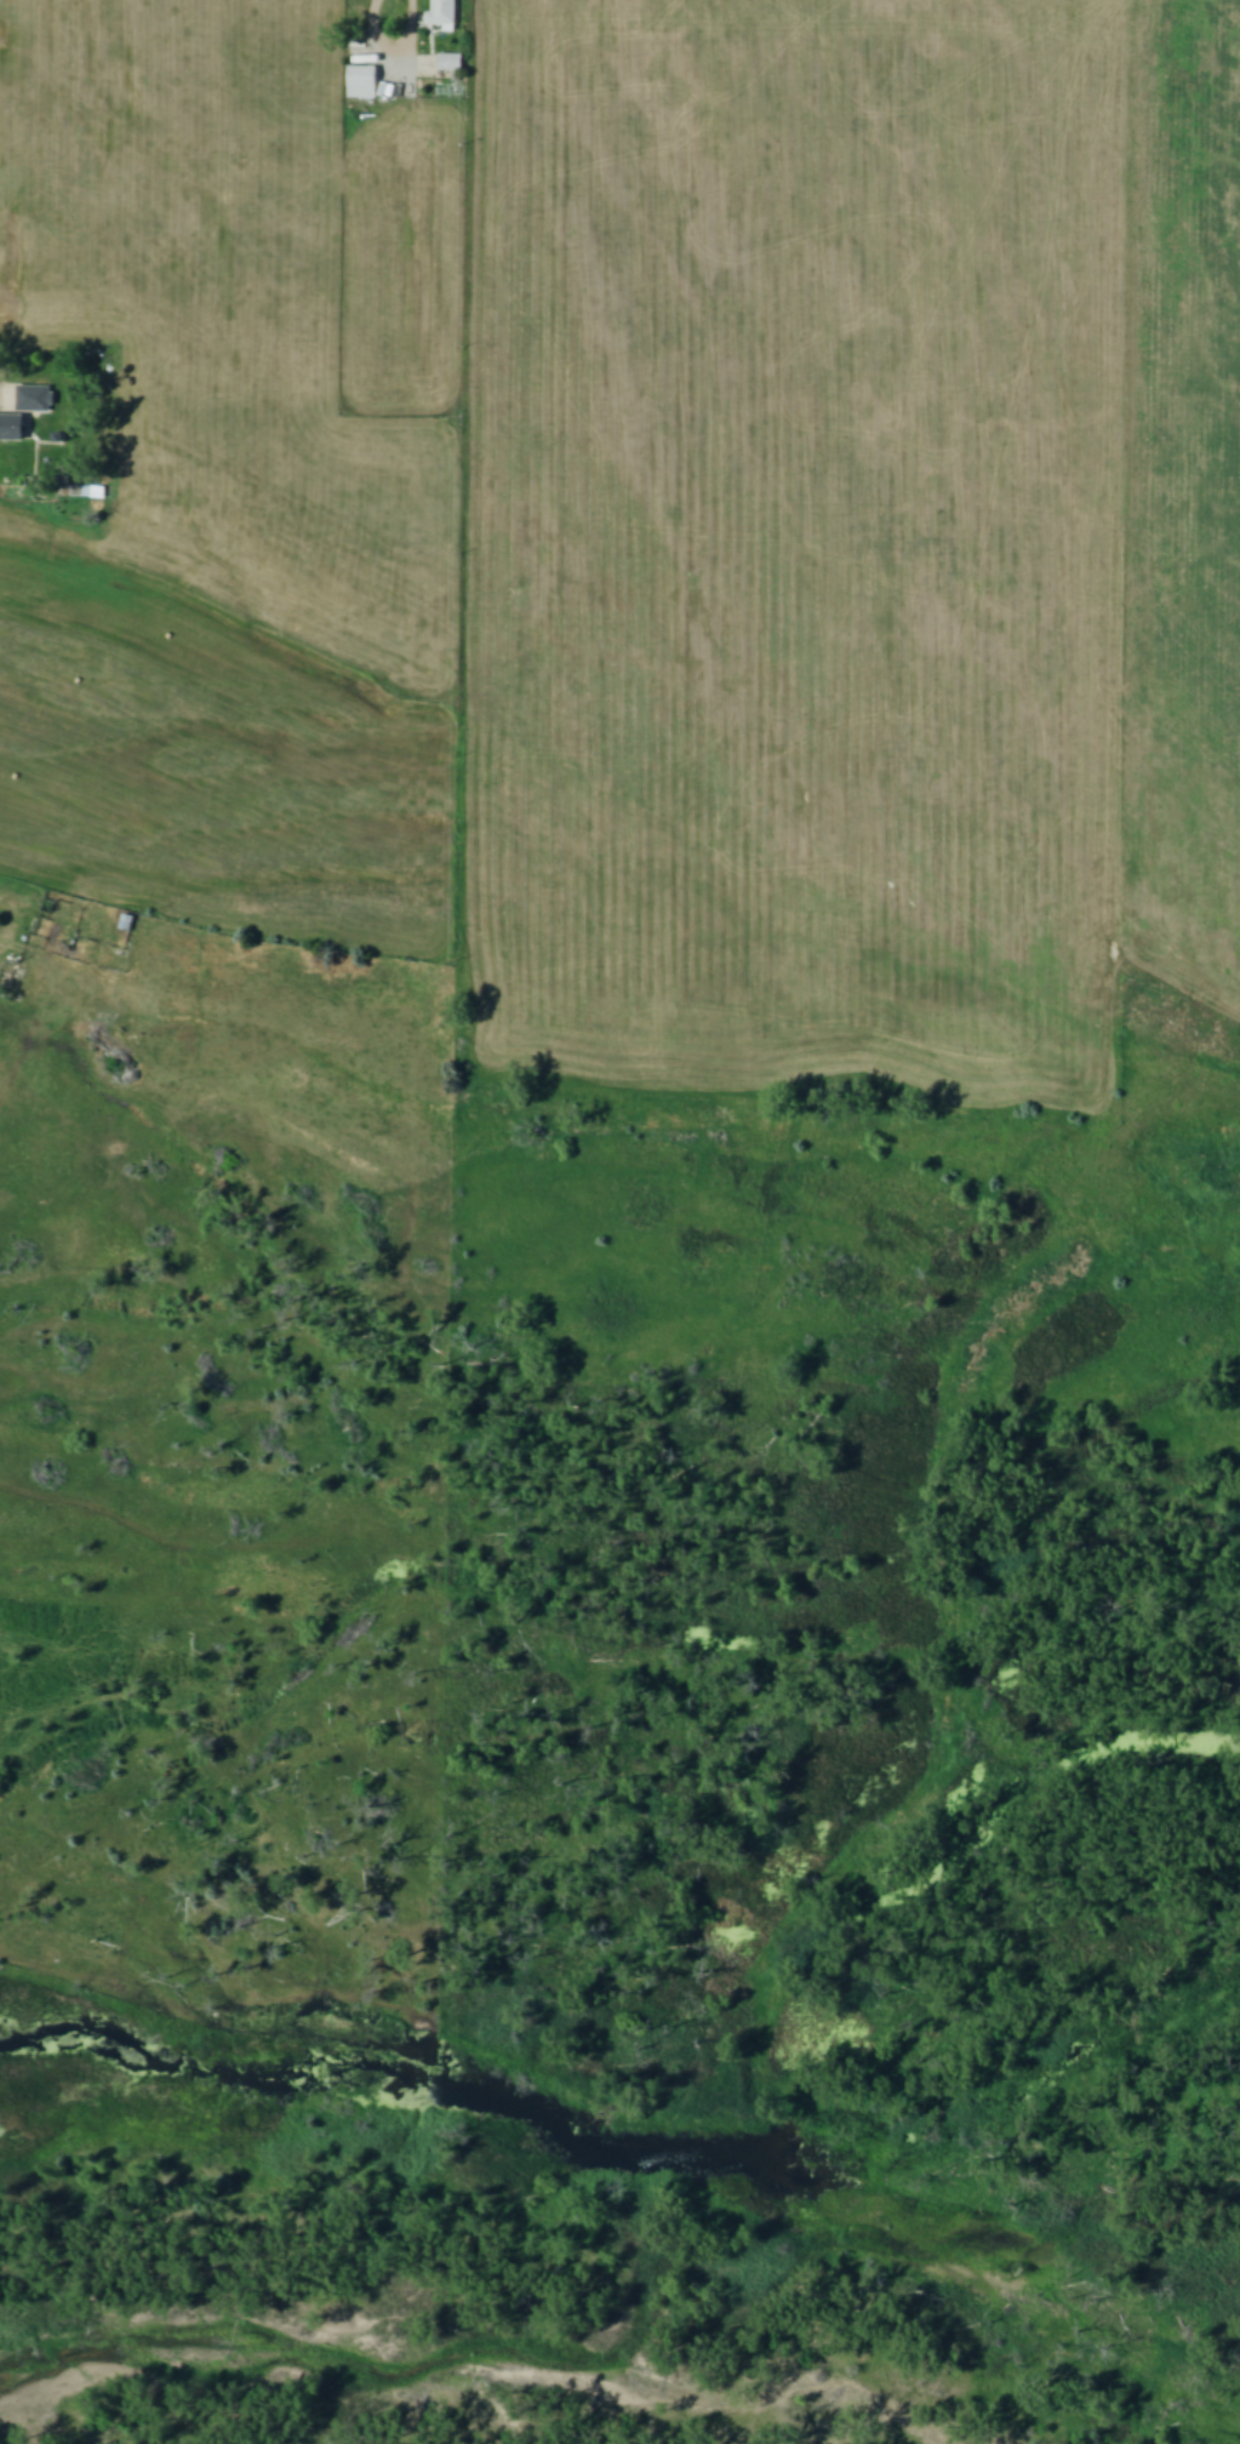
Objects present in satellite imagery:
building: (444, 16)
road: (411, 29)
building: (451, 63)
building: (362, 84)
building: (24, 415)

